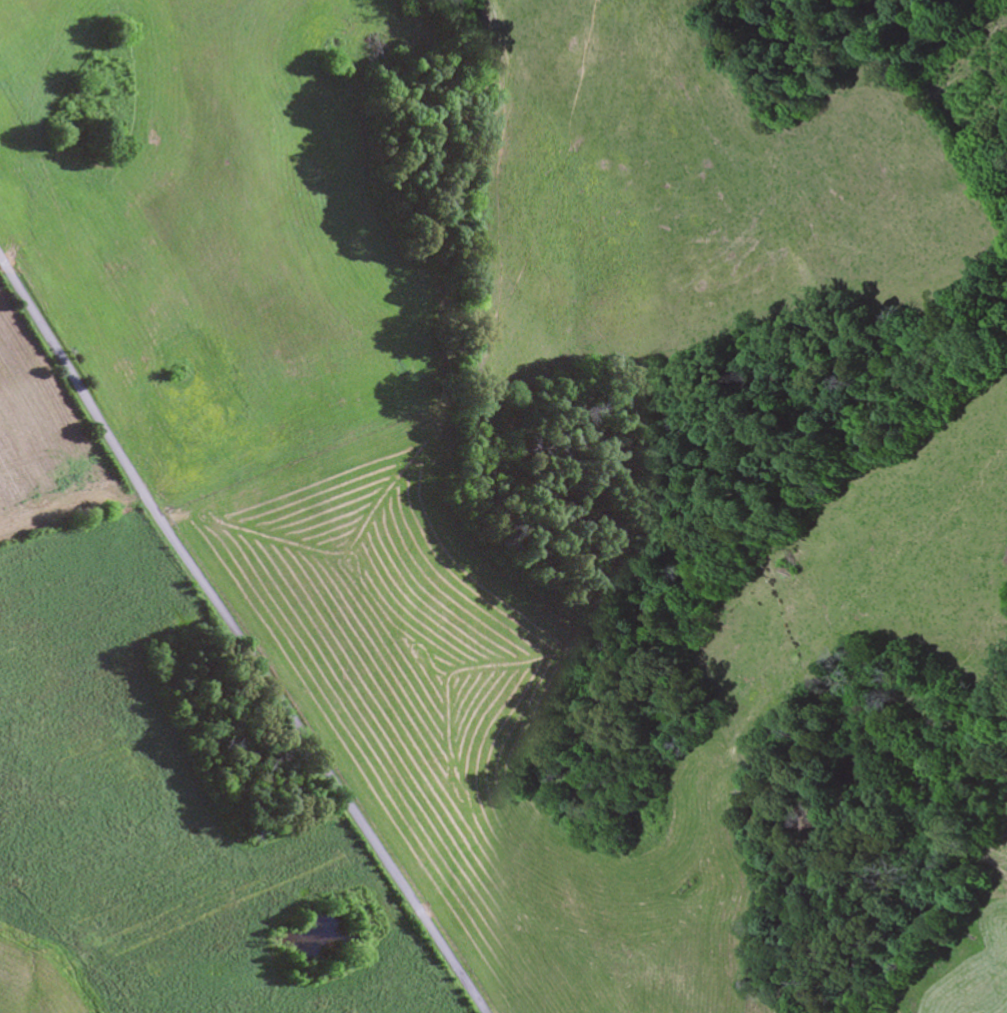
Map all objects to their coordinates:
road: (240, 638)

